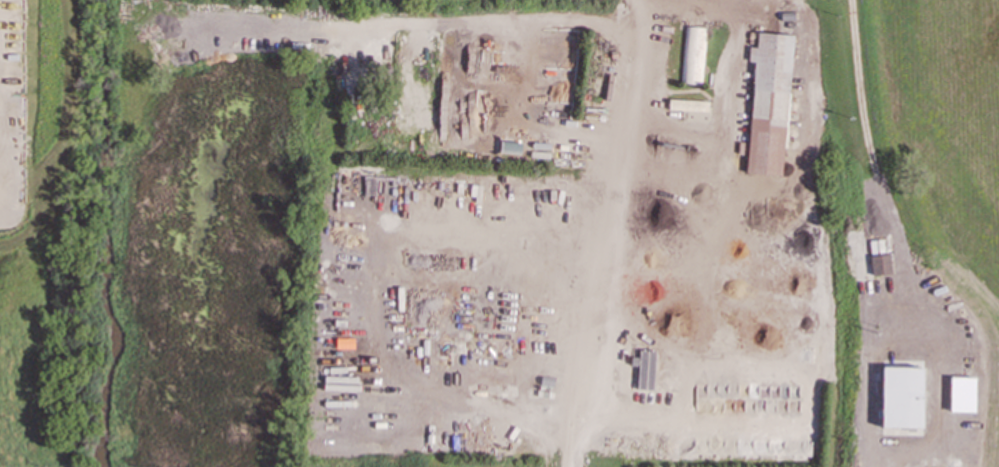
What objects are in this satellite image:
building: (693, 55)
building: (769, 102)
building: (688, 105)
road: (895, 232)
road: (606, 233)
building: (881, 264)
building: (644, 369)
building: (902, 397)

